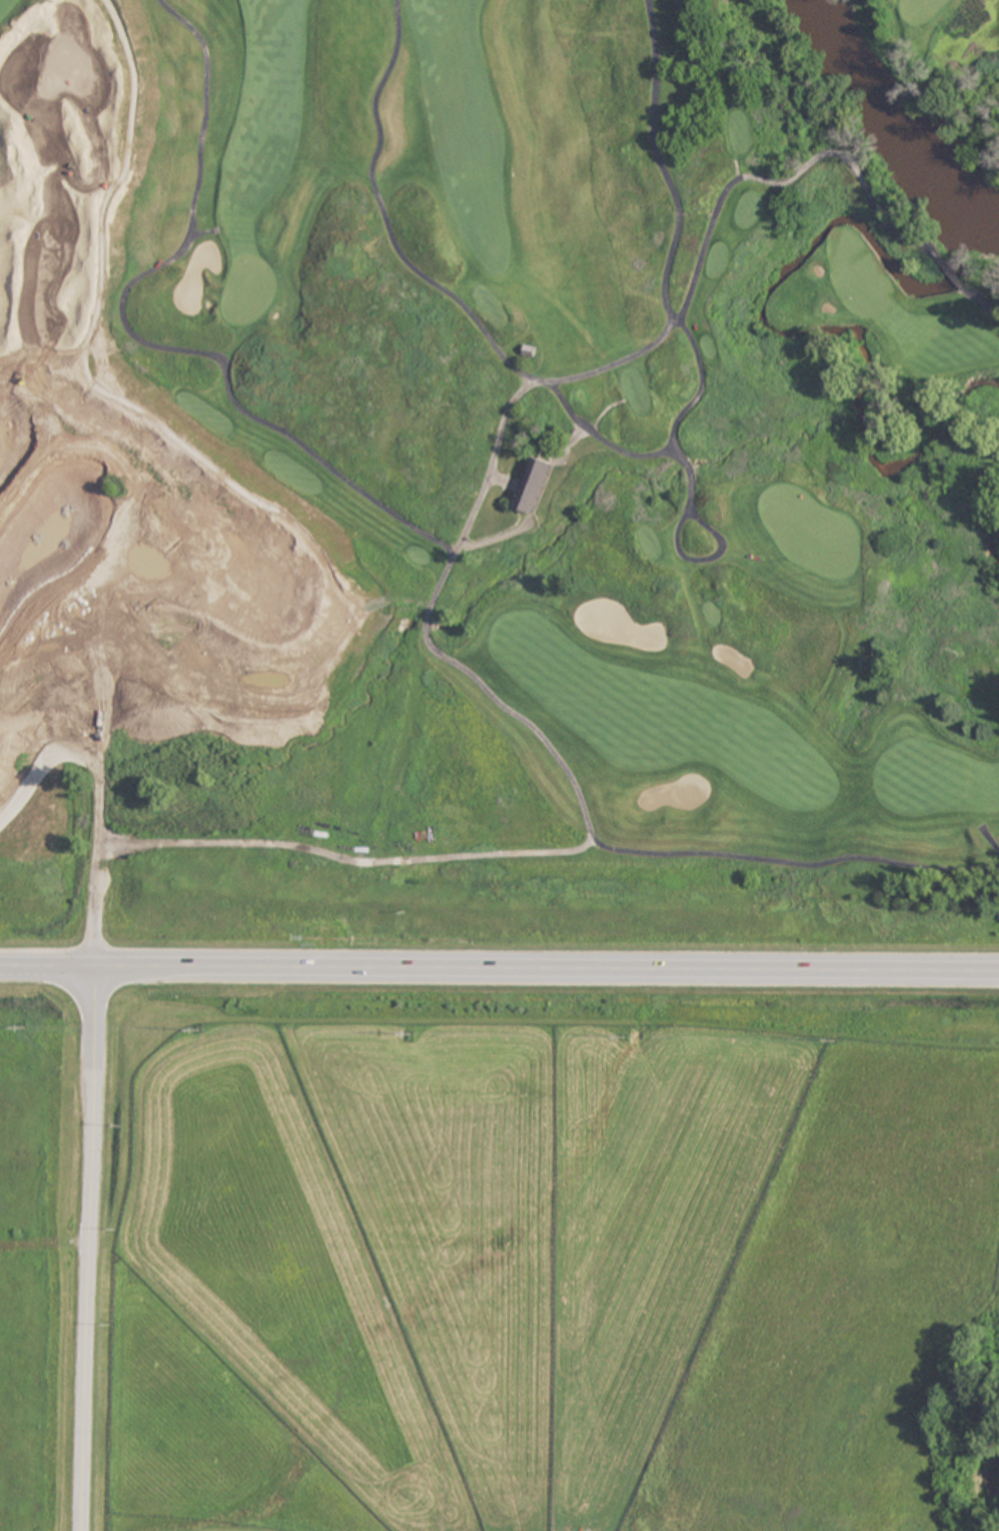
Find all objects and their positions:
park: (921, 10)
river: (895, 121)
park: (499, 478)
building: (531, 484)
road: (441, 546)
road: (499, 967)
road: (88, 1248)
crop: (487, 1250)

